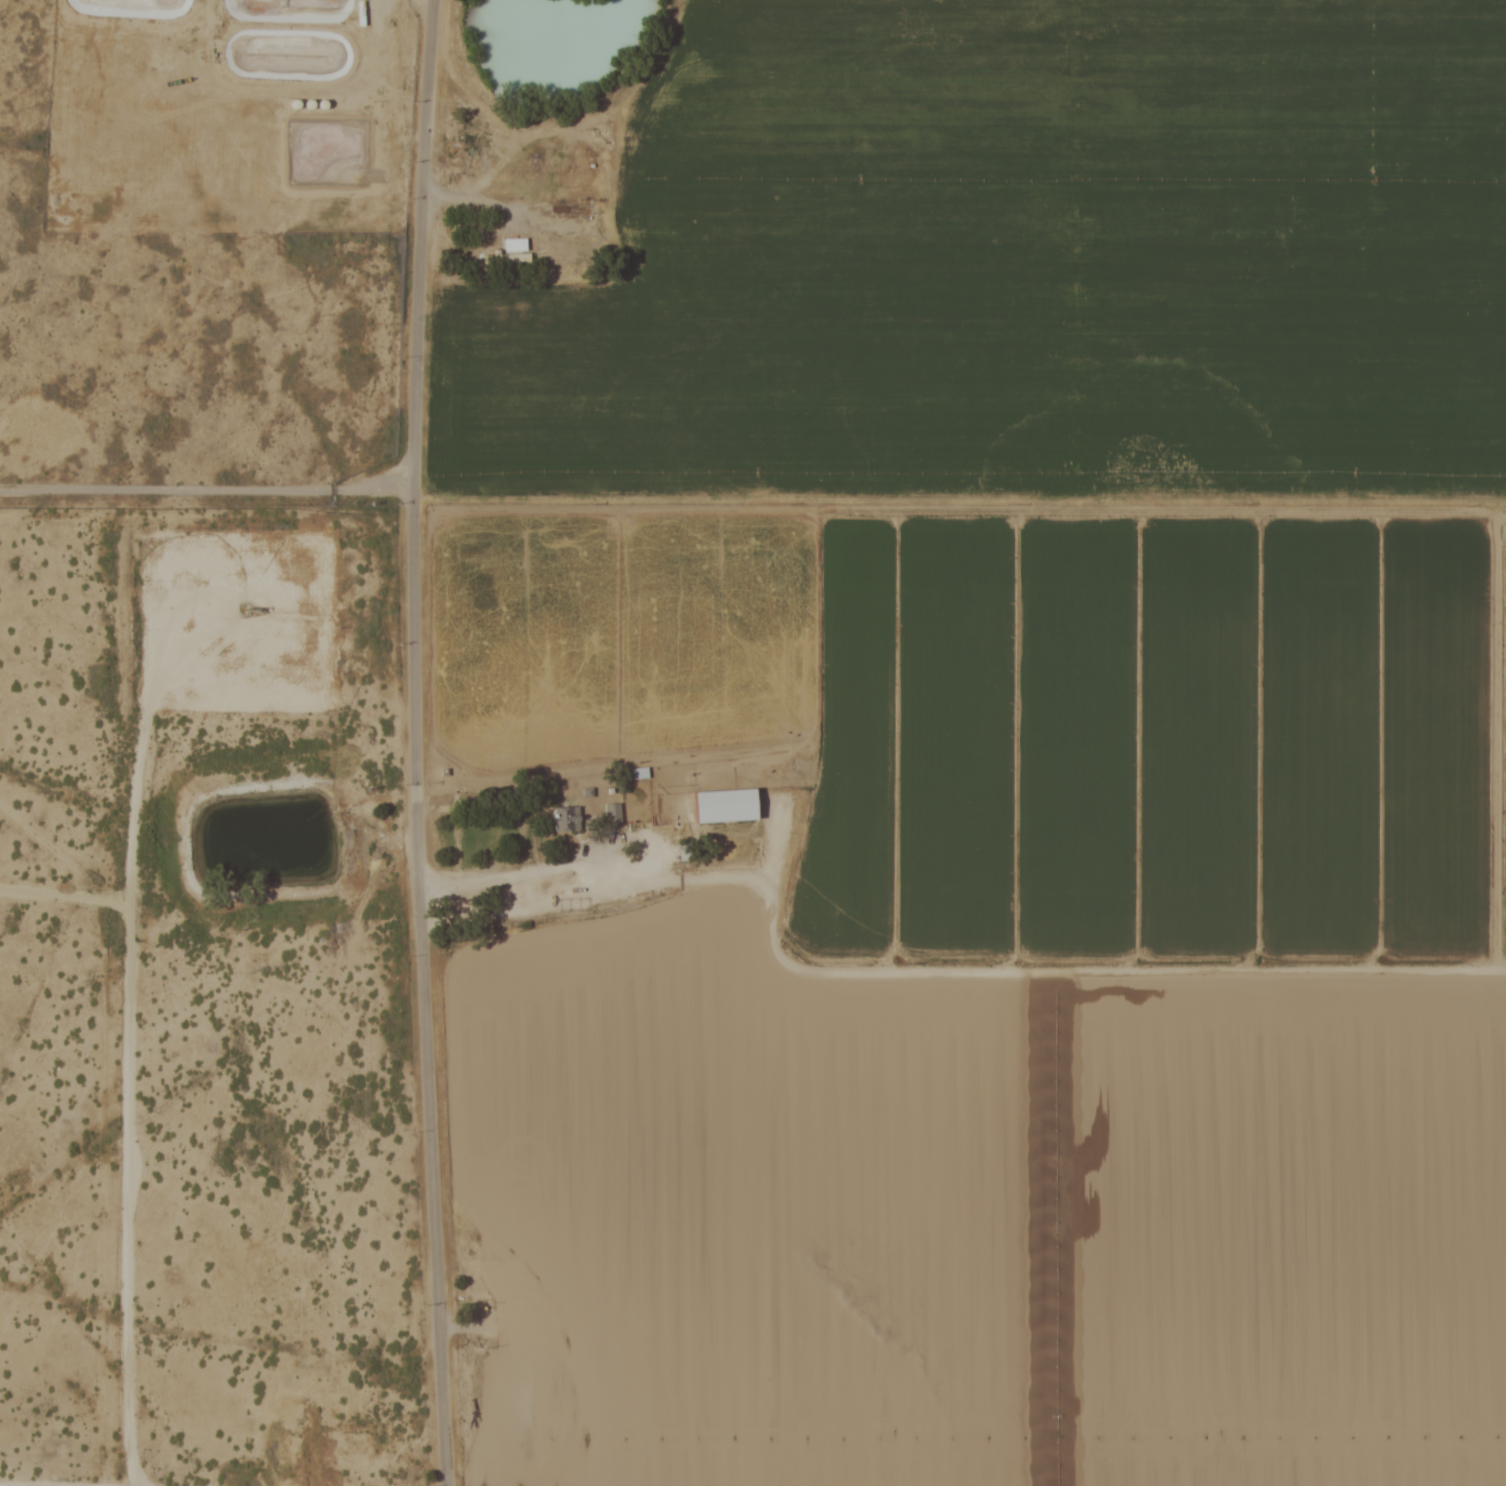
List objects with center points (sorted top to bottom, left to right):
road: (620, 129)
road: (412, 743)
building: (731, 805)
building: (613, 813)
road: (598, 897)
road: (1047, 966)
road: (548, 1429)
road: (522, 1466)

